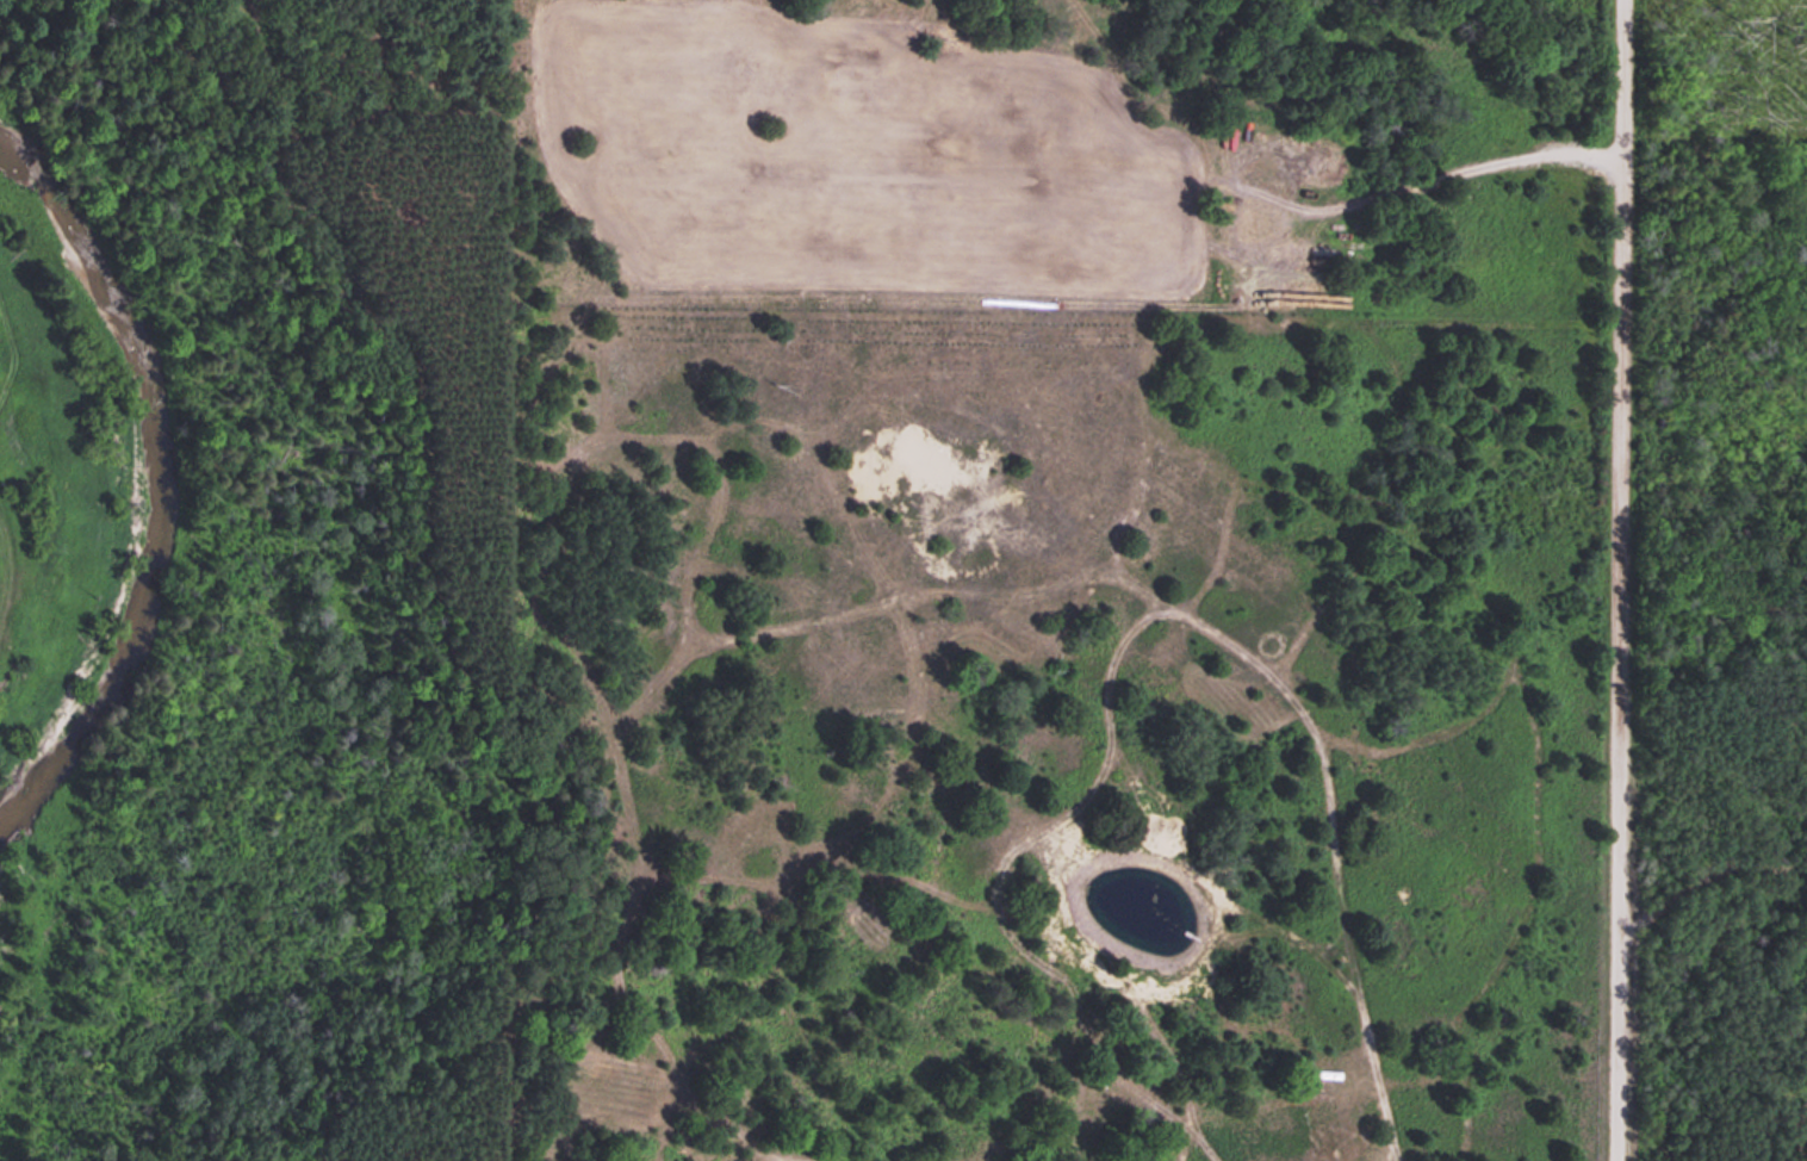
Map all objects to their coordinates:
river: (176, 468)
road: (1600, 580)

